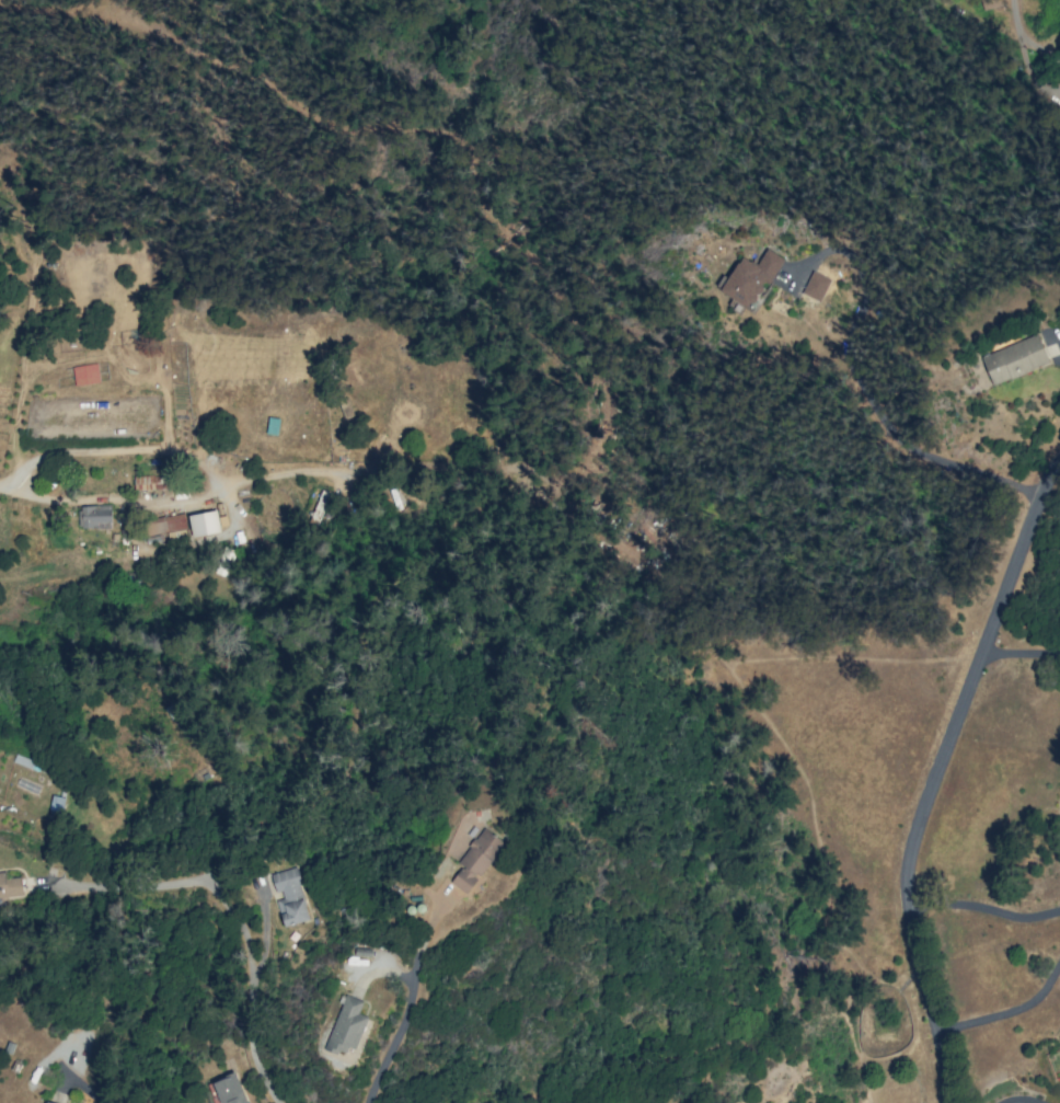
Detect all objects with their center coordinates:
road: (1017, 30)
building: (749, 277)
building: (815, 285)
building: (1014, 359)
building: (85, 374)
road: (861, 392)
road: (173, 451)
road: (1046, 471)
building: (151, 482)
road: (21, 491)
road: (138, 501)
building: (95, 516)
building: (204, 522)
road: (1018, 653)
road: (931, 792)
building: (56, 803)
building: (475, 860)
building: (10, 886)
building: (289, 897)
road: (987, 909)
road: (247, 1006)
road: (1009, 1013)
building: (346, 1026)
road: (389, 1056)
road: (84, 1088)
building: (230, 1089)
building: (46, 1102)
road: (1021, 1102)

